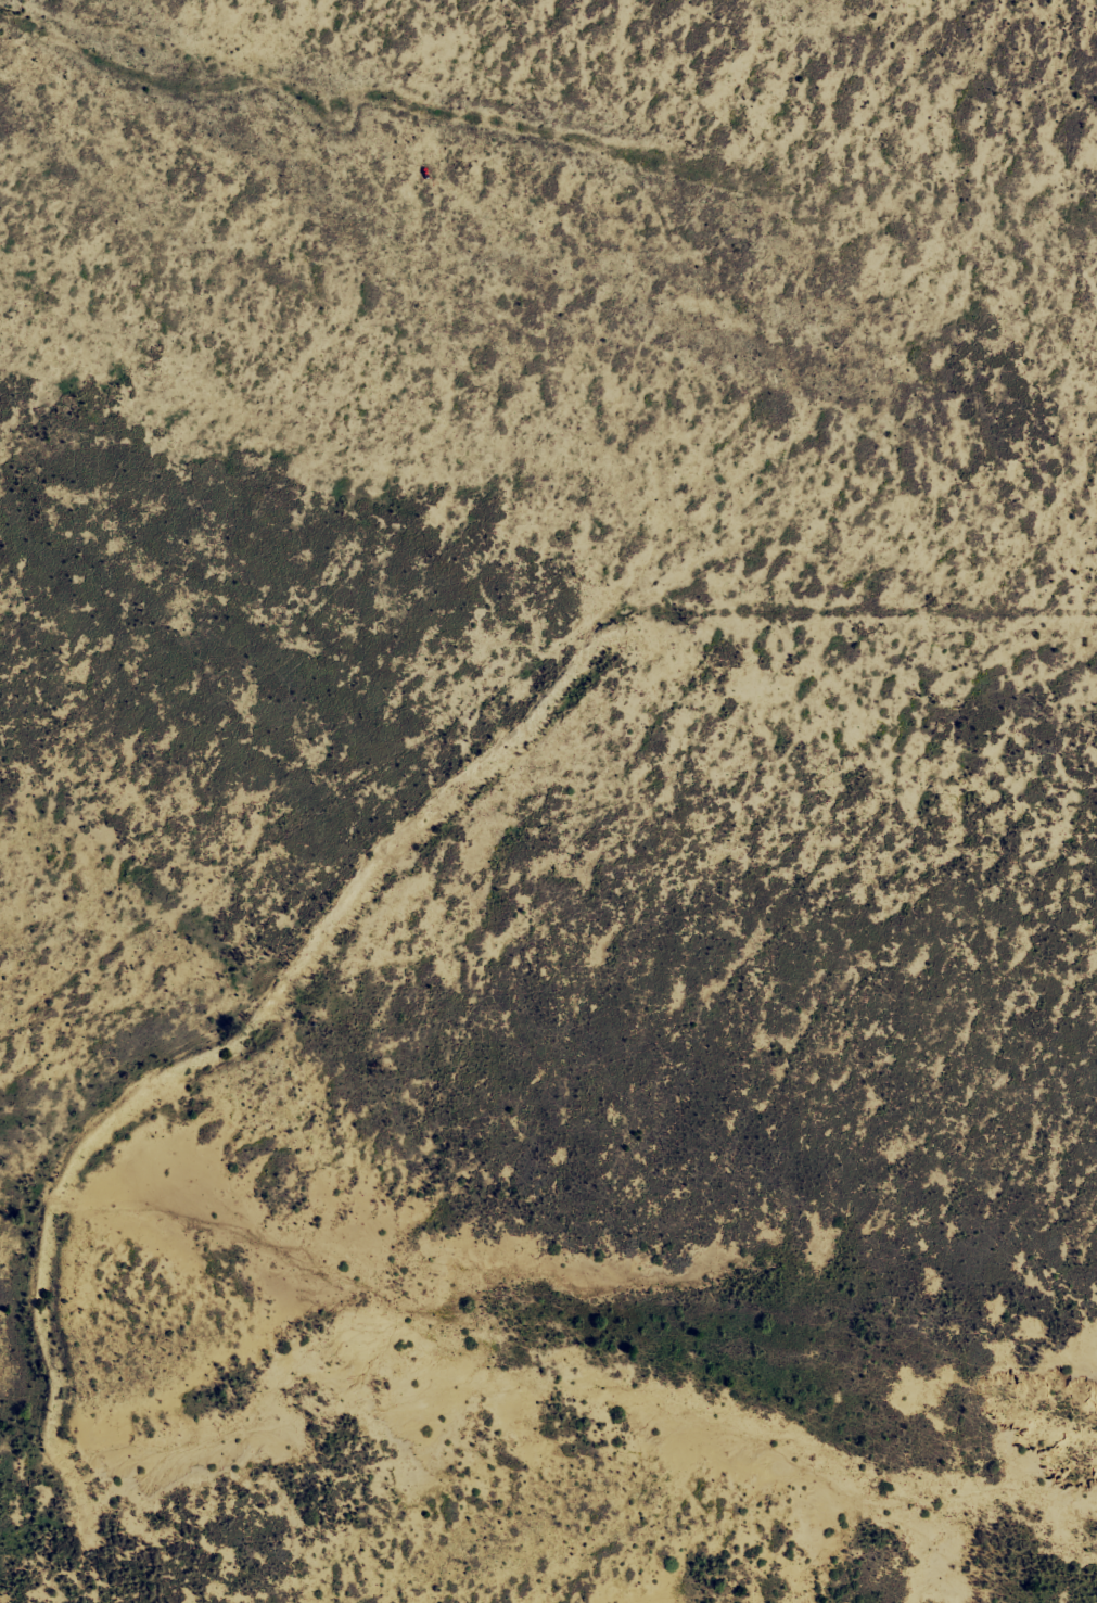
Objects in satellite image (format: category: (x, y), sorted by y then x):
road: (513, 709)

